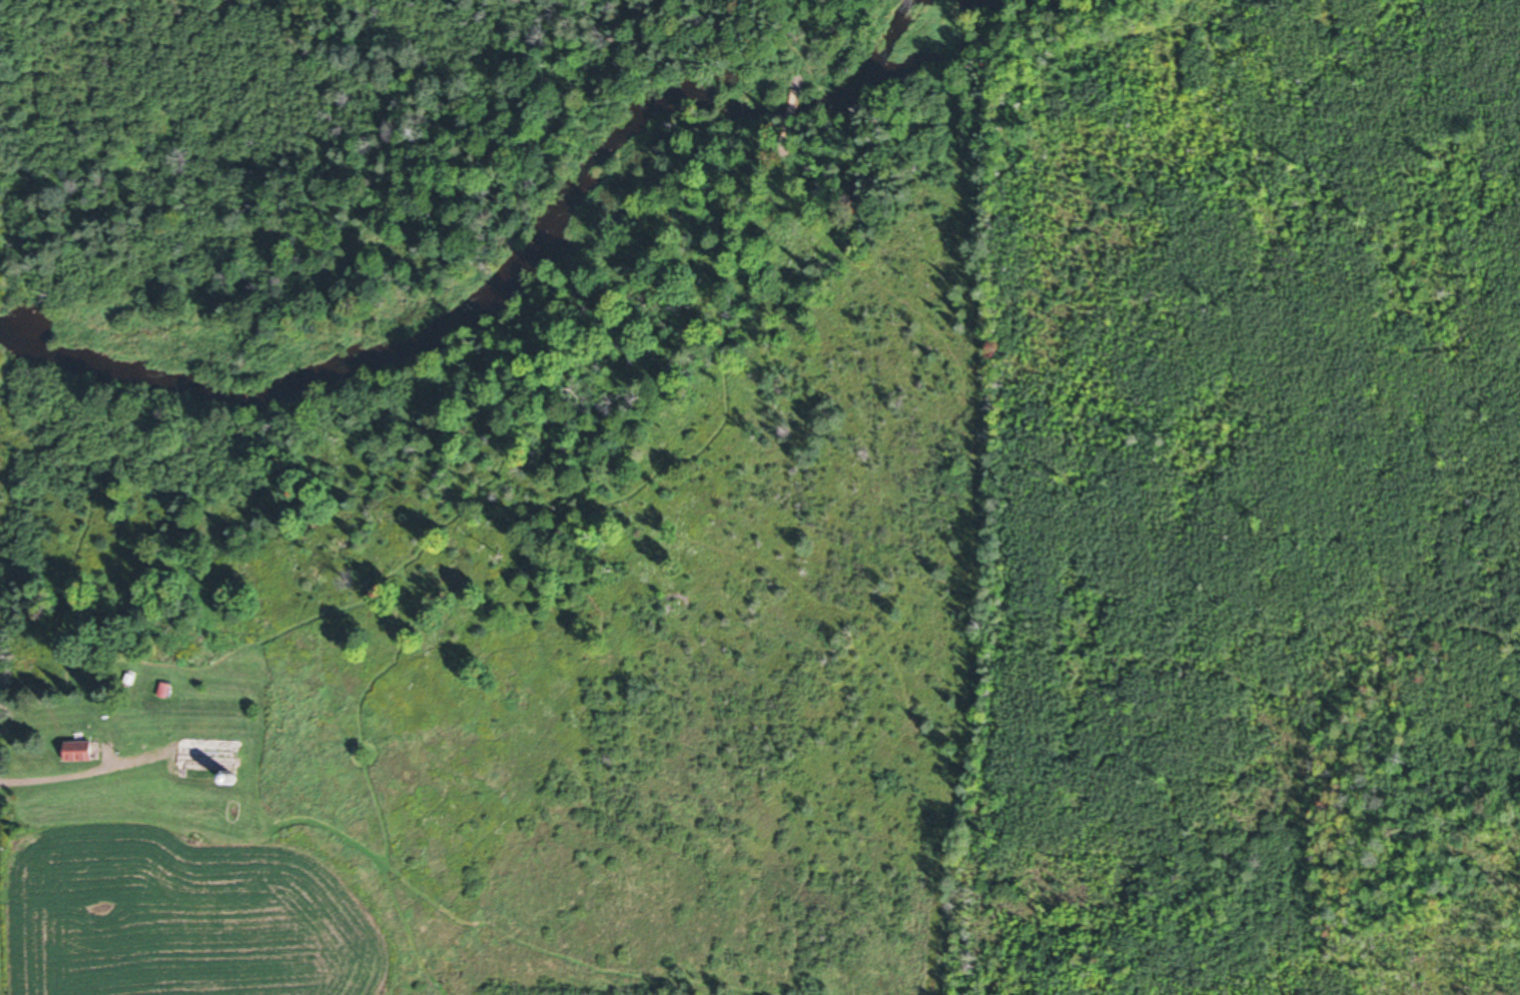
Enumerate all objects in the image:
building: (86, 753)
building: (218, 756)

